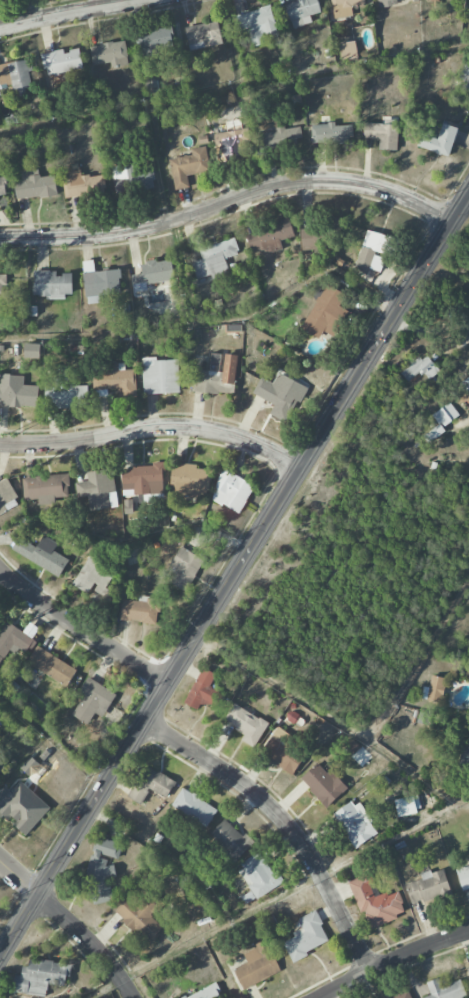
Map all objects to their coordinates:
building: (391, 1)
building: (344, 7)
road: (72, 11)
building: (301, 11)
building: (257, 25)
building: (203, 35)
building: (153, 41)
building: (348, 50)
building: (109, 54)
building: (62, 61)
building: (17, 75)
building: (464, 76)
road: (234, 88)
building: (331, 133)
building: (382, 134)
building: (279, 135)
building: (439, 140)
building: (234, 142)
building: (189, 166)
building: (132, 179)
building: (82, 184)
building: (34, 185)
building: (2, 187)
road: (229, 201)
road: (168, 213)
building: (268, 236)
building: (321, 236)
building: (372, 251)
building: (213, 261)
building: (153, 274)
building: (2, 281)
building: (52, 284)
building: (324, 312)
road: (210, 318)
road: (429, 329)
building: (32, 351)
building: (421, 369)
building: (217, 375)
building: (160, 376)
building: (115, 379)
building: (463, 386)
building: (16, 391)
building: (65, 394)
building: (280, 395)
road: (467, 416)
building: (441, 421)
road: (154, 429)
building: (143, 480)
building: (190, 481)
building: (46, 487)
building: (98, 489)
building: (231, 491)
building: (6, 496)
road: (127, 541)
building: (42, 554)
building: (133, 556)
building: (183, 569)
road: (234, 575)
building: (94, 577)
building: (141, 610)
road: (81, 631)
building: (14, 639)
road: (419, 662)
building: (51, 666)
building: (433, 689)
building: (203, 691)
building: (93, 701)
road: (333, 720)
building: (246, 724)
road: (52, 738)
building: (282, 751)
building: (464, 757)
building: (3, 763)
building: (30, 766)
building: (151, 784)
building: (323, 784)
building: (407, 805)
building: (23, 807)
building: (193, 809)
road: (285, 822)
building: (355, 823)
building: (231, 838)
building: (102, 869)
building: (259, 875)
building: (463, 876)
building: (428, 886)
road: (271, 900)
building: (376, 902)
building: (141, 915)
road: (70, 924)
building: (306, 936)
road: (394, 961)
building: (256, 966)
building: (468, 969)
building: (40, 976)
building: (445, 990)
building: (404, 995)

